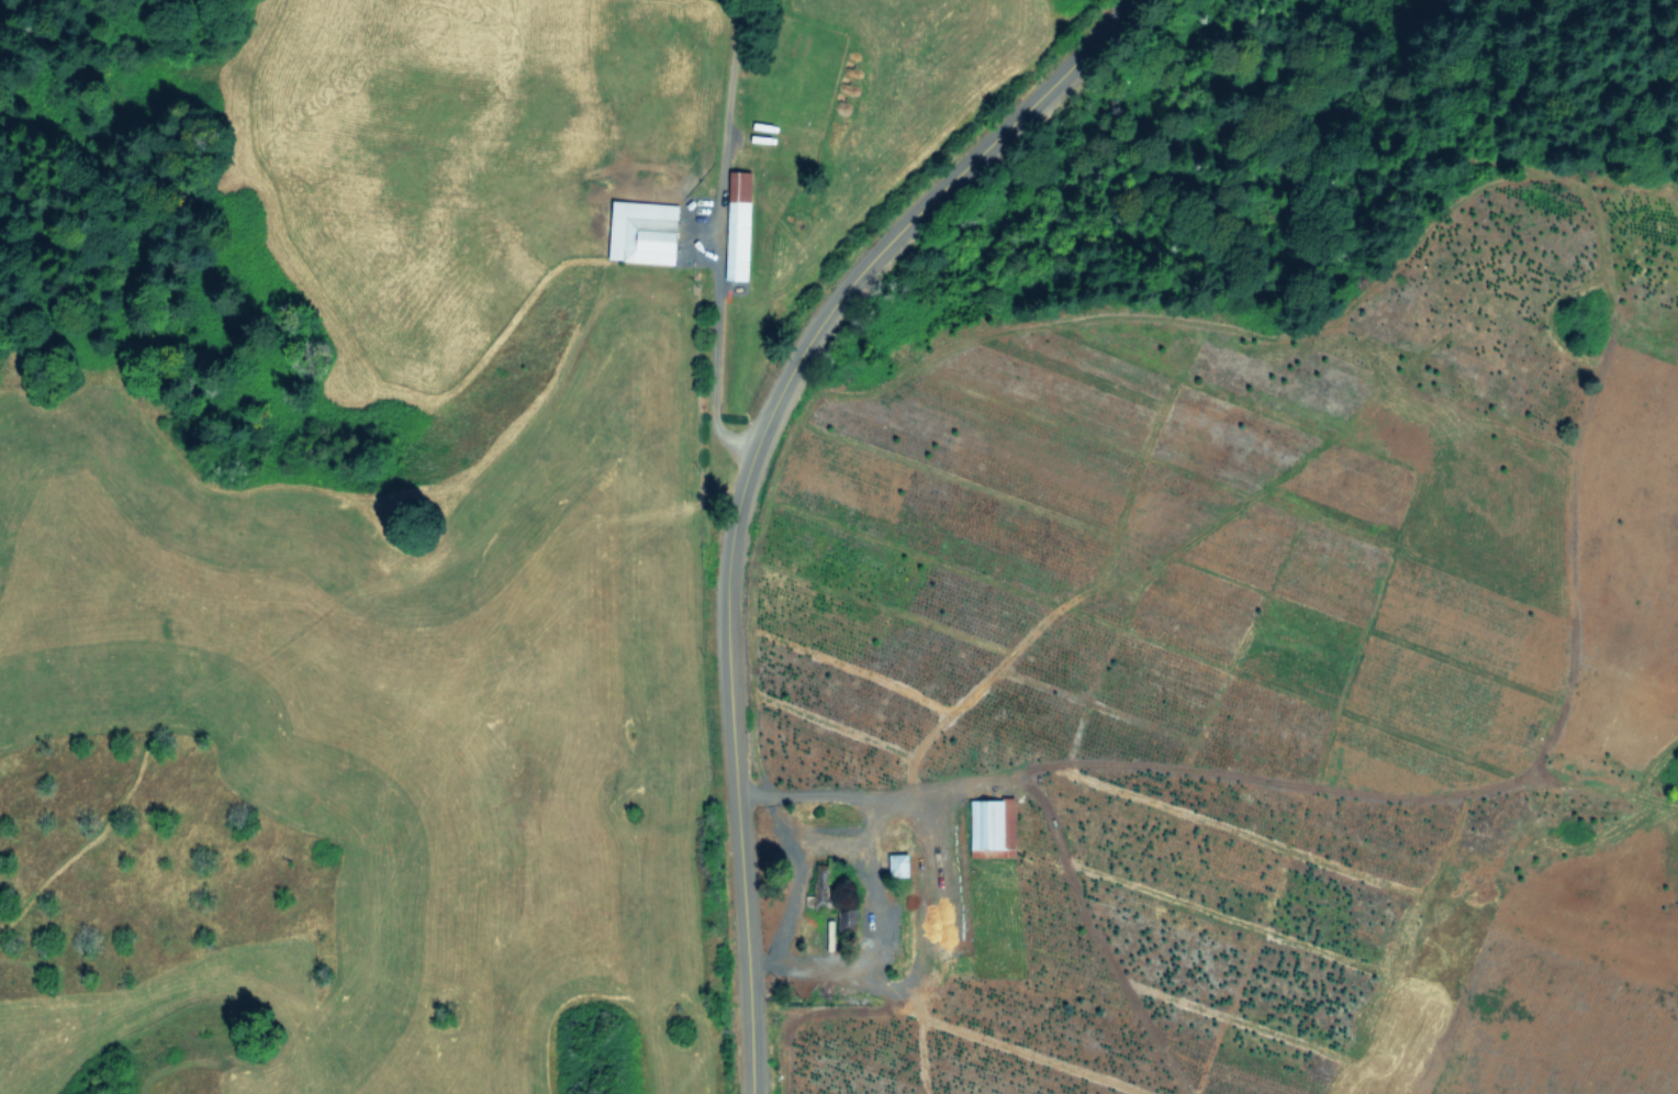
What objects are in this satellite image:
building: (738, 225)
building: (644, 231)
road: (738, 478)
building: (992, 822)
road: (858, 846)
building: (898, 861)
road: (786, 911)

